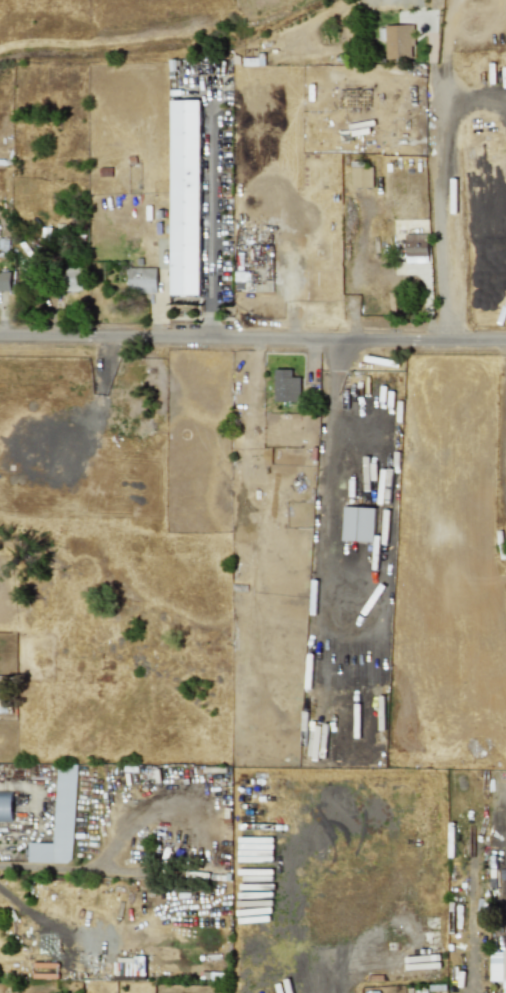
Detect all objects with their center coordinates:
building: (397, 40)
road: (476, 93)
road: (445, 170)
building: (360, 175)
building: (185, 195)
road: (212, 227)
building: (415, 244)
building: (71, 278)
building: (141, 279)
building: (4, 281)
road: (252, 338)
building: (285, 385)
road: (334, 408)
building: (5, 806)
building: (59, 820)
road: (72, 866)
building: (497, 965)

